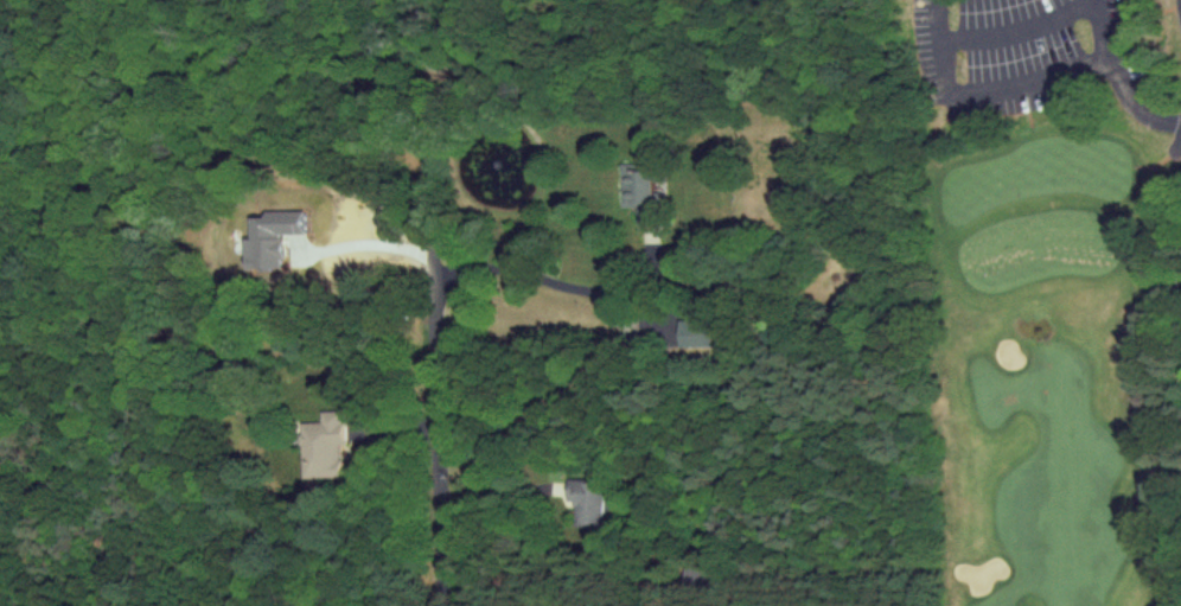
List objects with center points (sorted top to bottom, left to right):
parking lot: (1010, 34)
road: (1117, 75)
road: (983, 87)
building: (640, 189)
building: (270, 238)
road: (377, 244)
park: (1042, 301)
road: (436, 314)
building: (696, 333)
road: (398, 432)
building: (326, 446)
building: (590, 502)
building: (318, 605)

